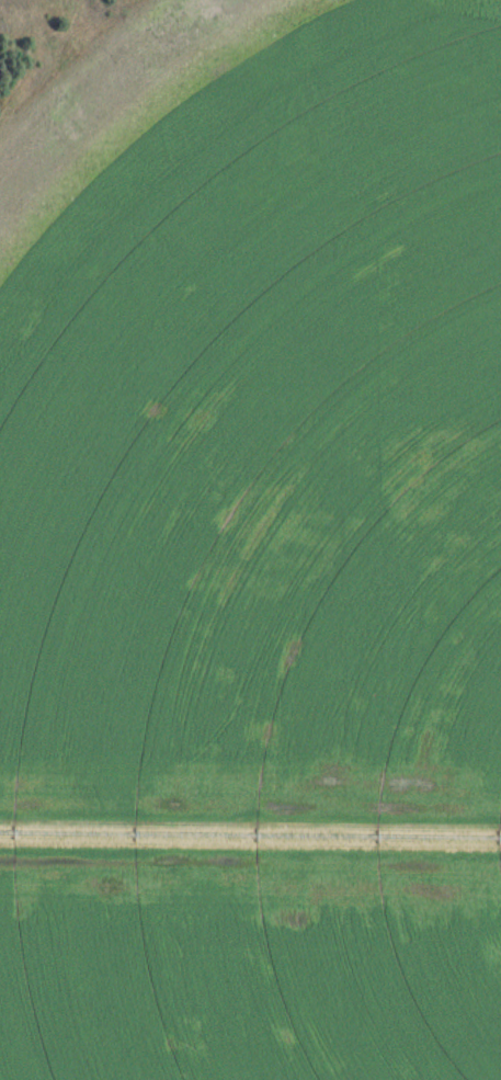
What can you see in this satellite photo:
wastewater plant: (250, 539)
crop: (255, 553)

